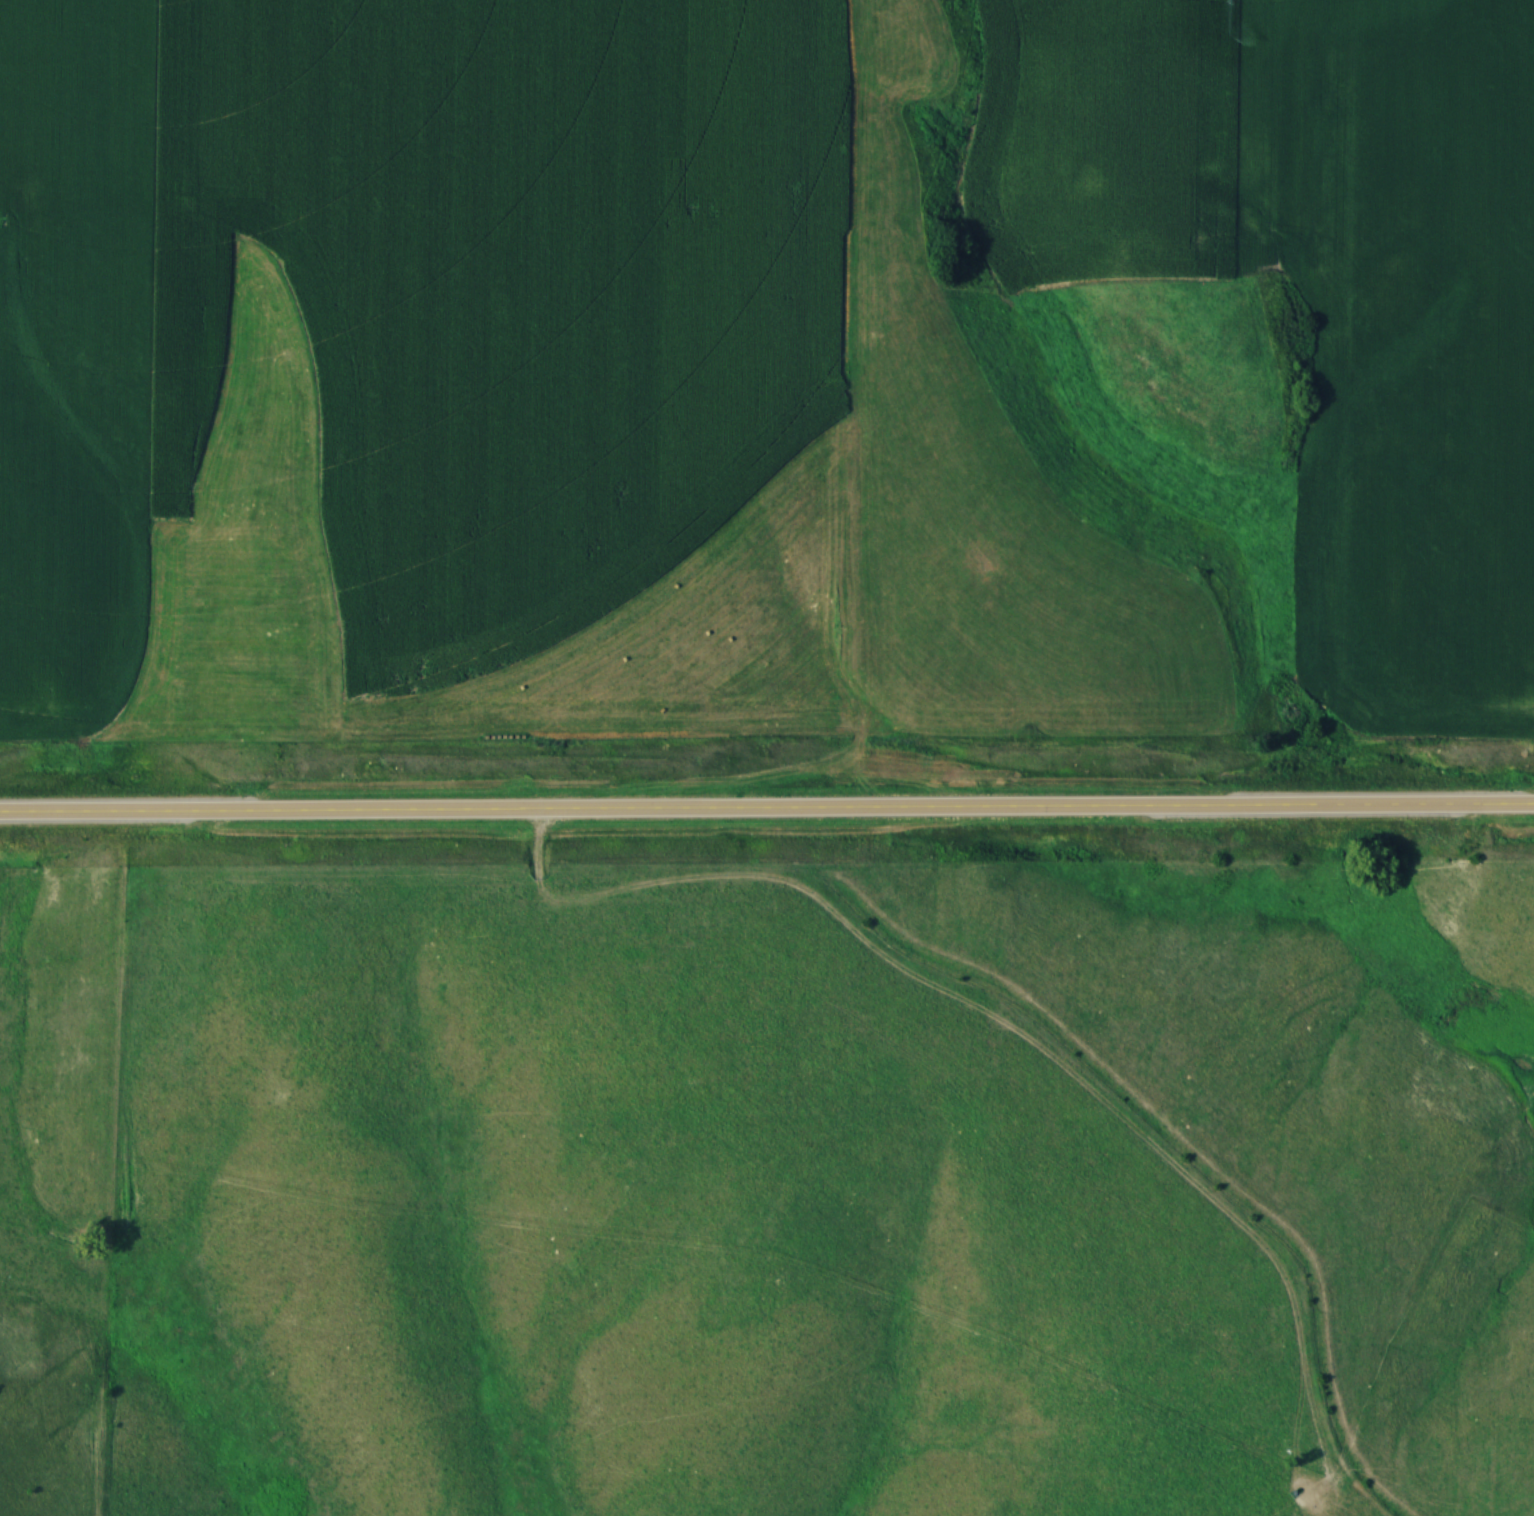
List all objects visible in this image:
road: (766, 812)

